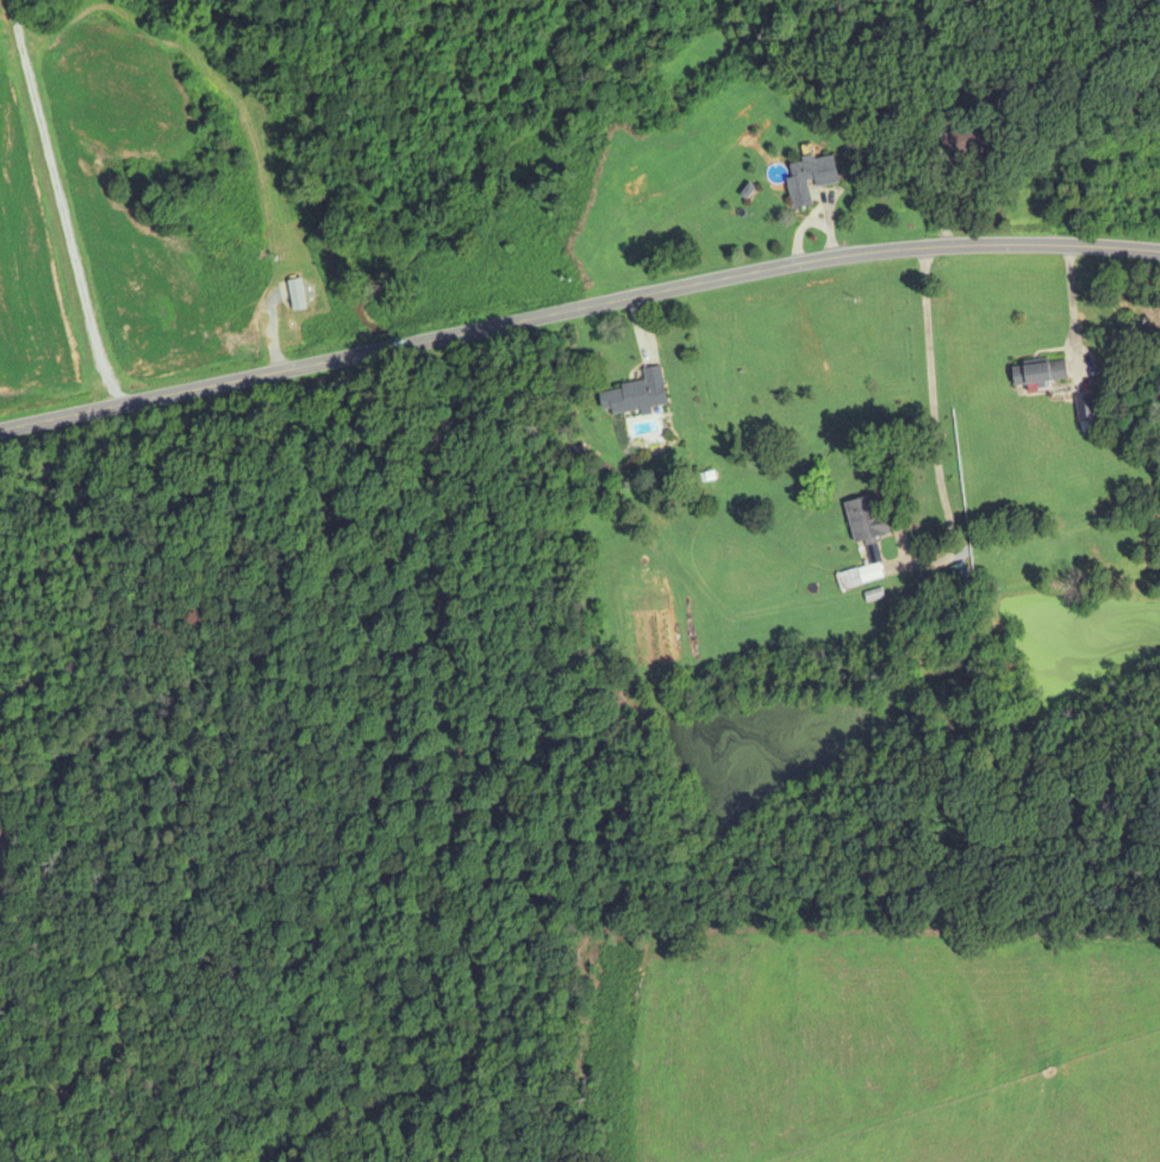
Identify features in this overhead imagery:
building: (959, 142)
building: (807, 180)
road: (60, 204)
building: (294, 295)
road: (576, 311)
building: (1037, 373)
building: (634, 395)
road: (887, 477)
building: (862, 541)

